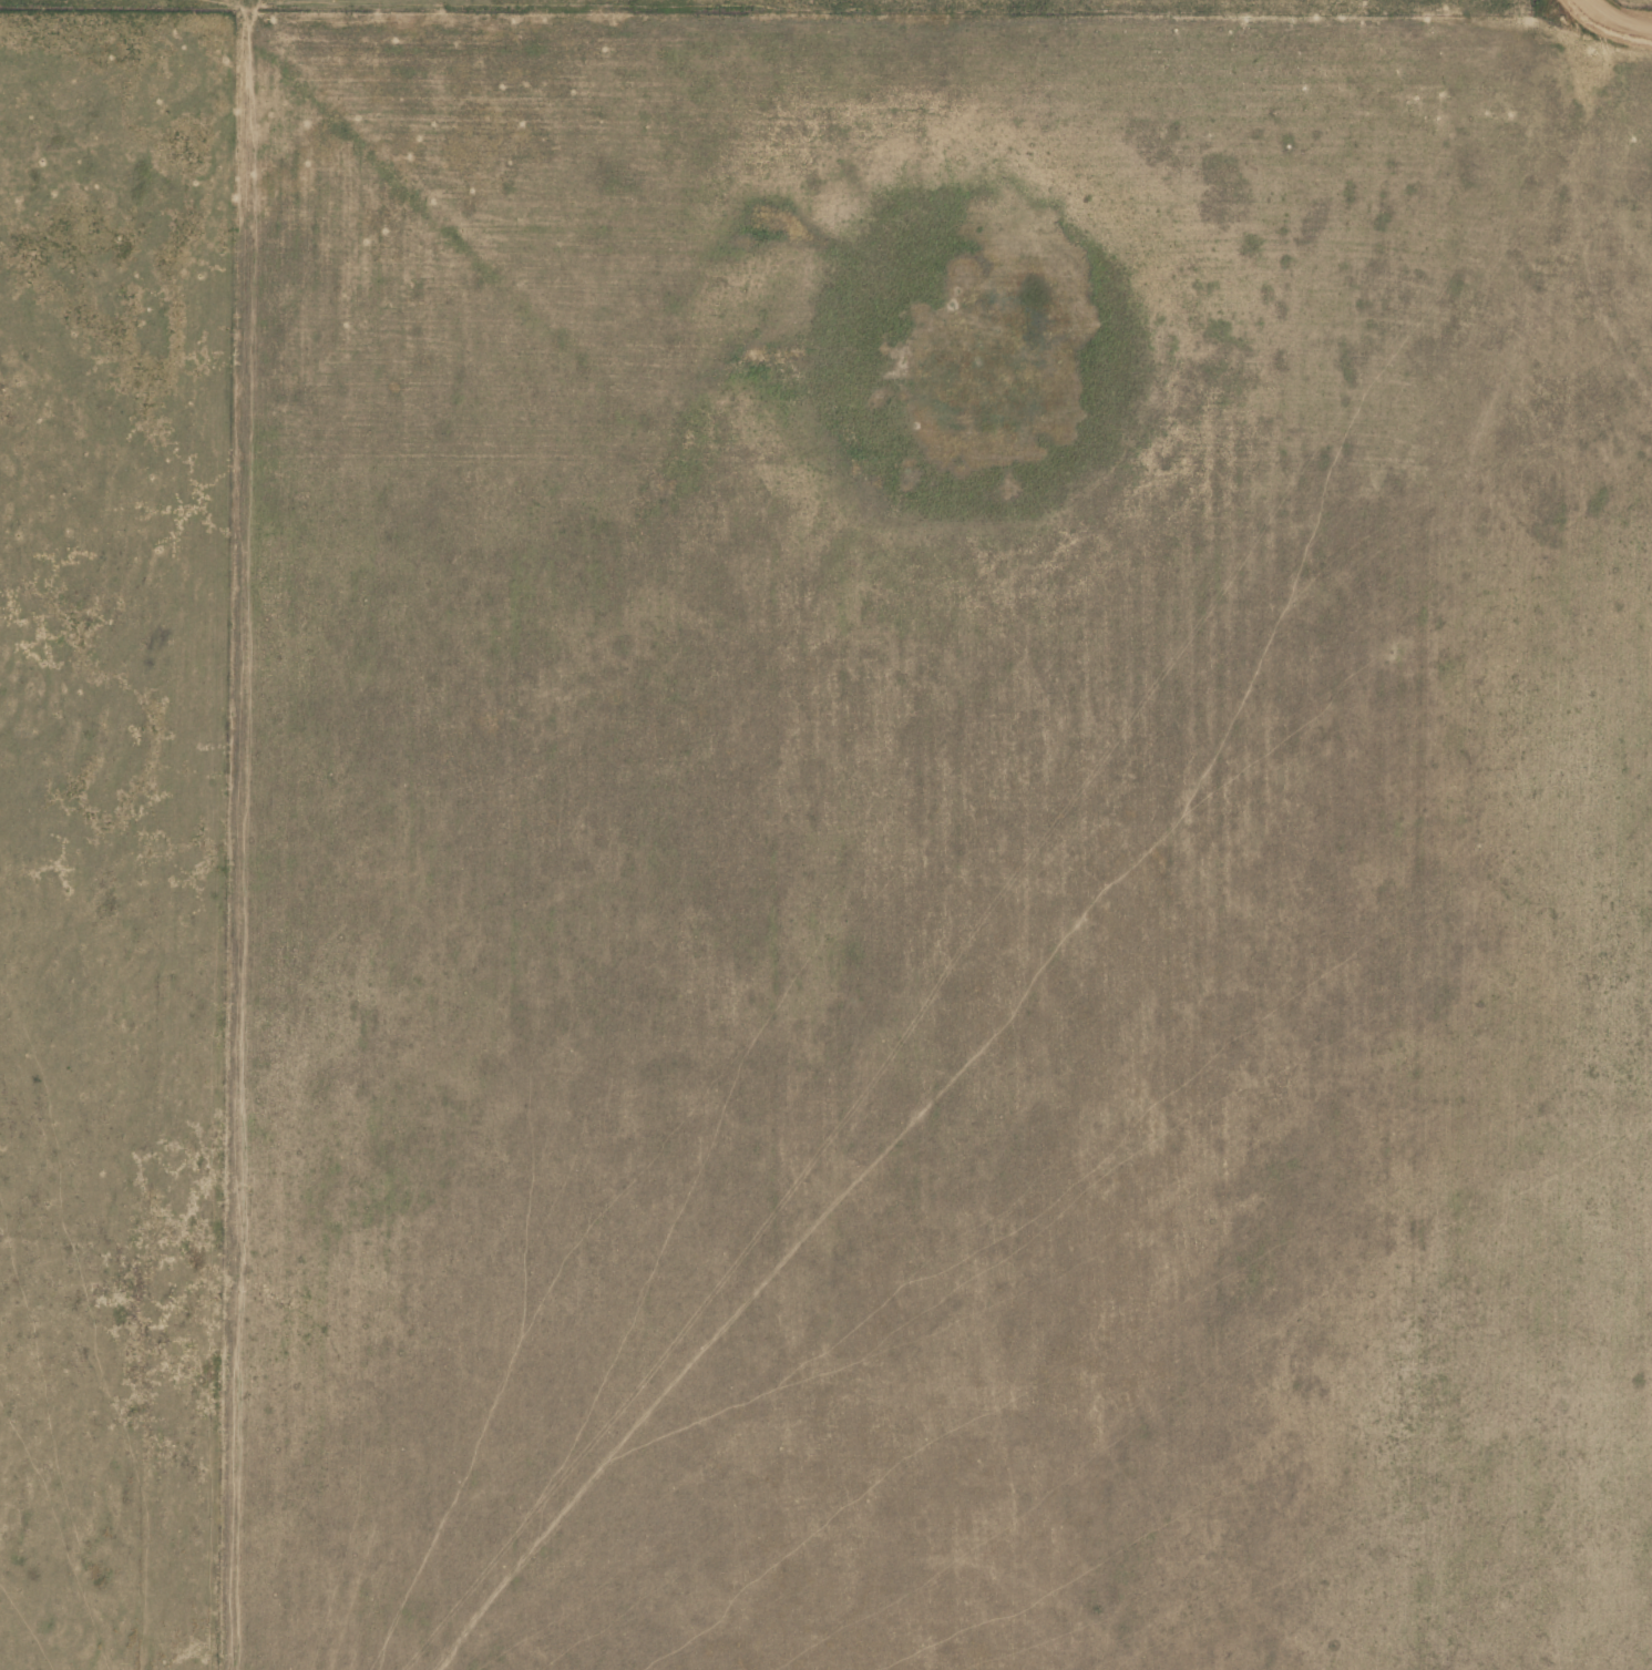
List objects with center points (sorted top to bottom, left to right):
road: (1624, 14)

